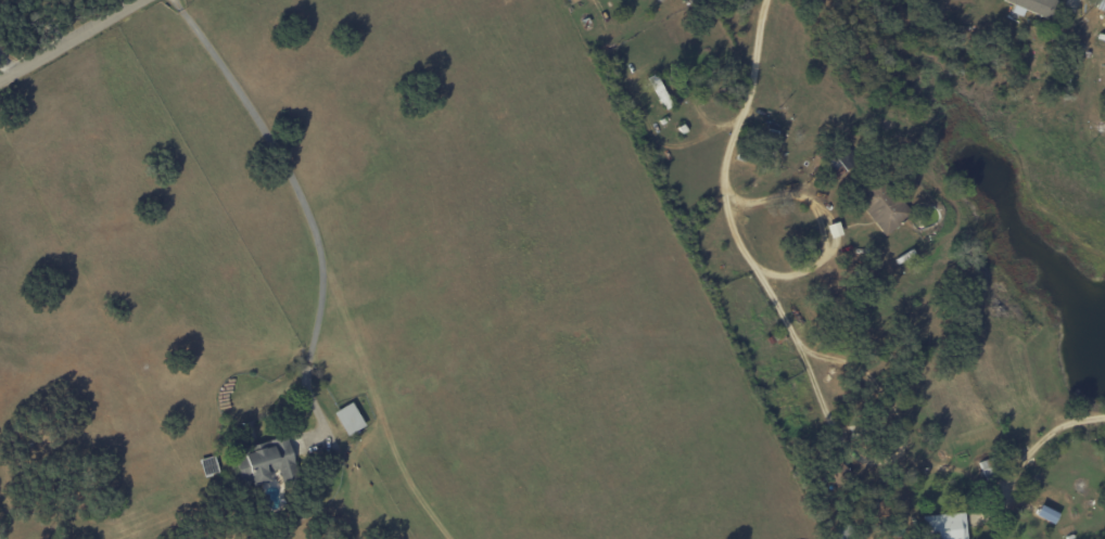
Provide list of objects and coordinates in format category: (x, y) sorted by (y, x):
building: (1034, 7)
road: (56, 22)
road: (68, 39)
road: (877, 42)
road: (3, 70)
road: (744, 105)
road: (302, 205)
building: (886, 208)
road: (835, 249)
road: (875, 305)
building: (348, 419)
road: (854, 451)
road: (1028, 454)
building: (265, 461)
building: (839, 474)
road: (999, 500)
building: (944, 526)

